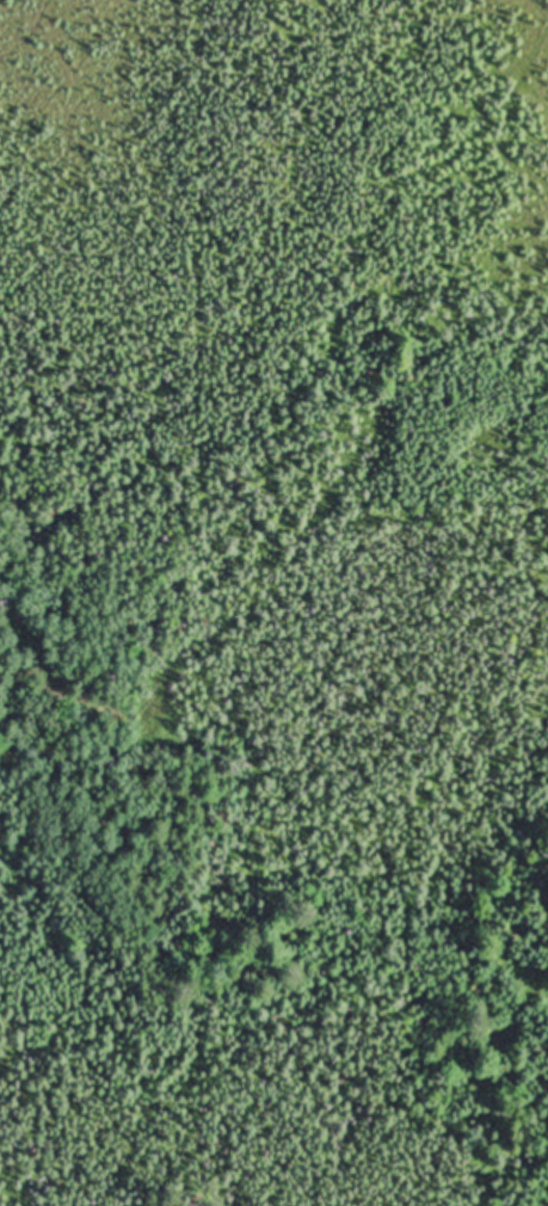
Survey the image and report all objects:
road: (281, 392)

